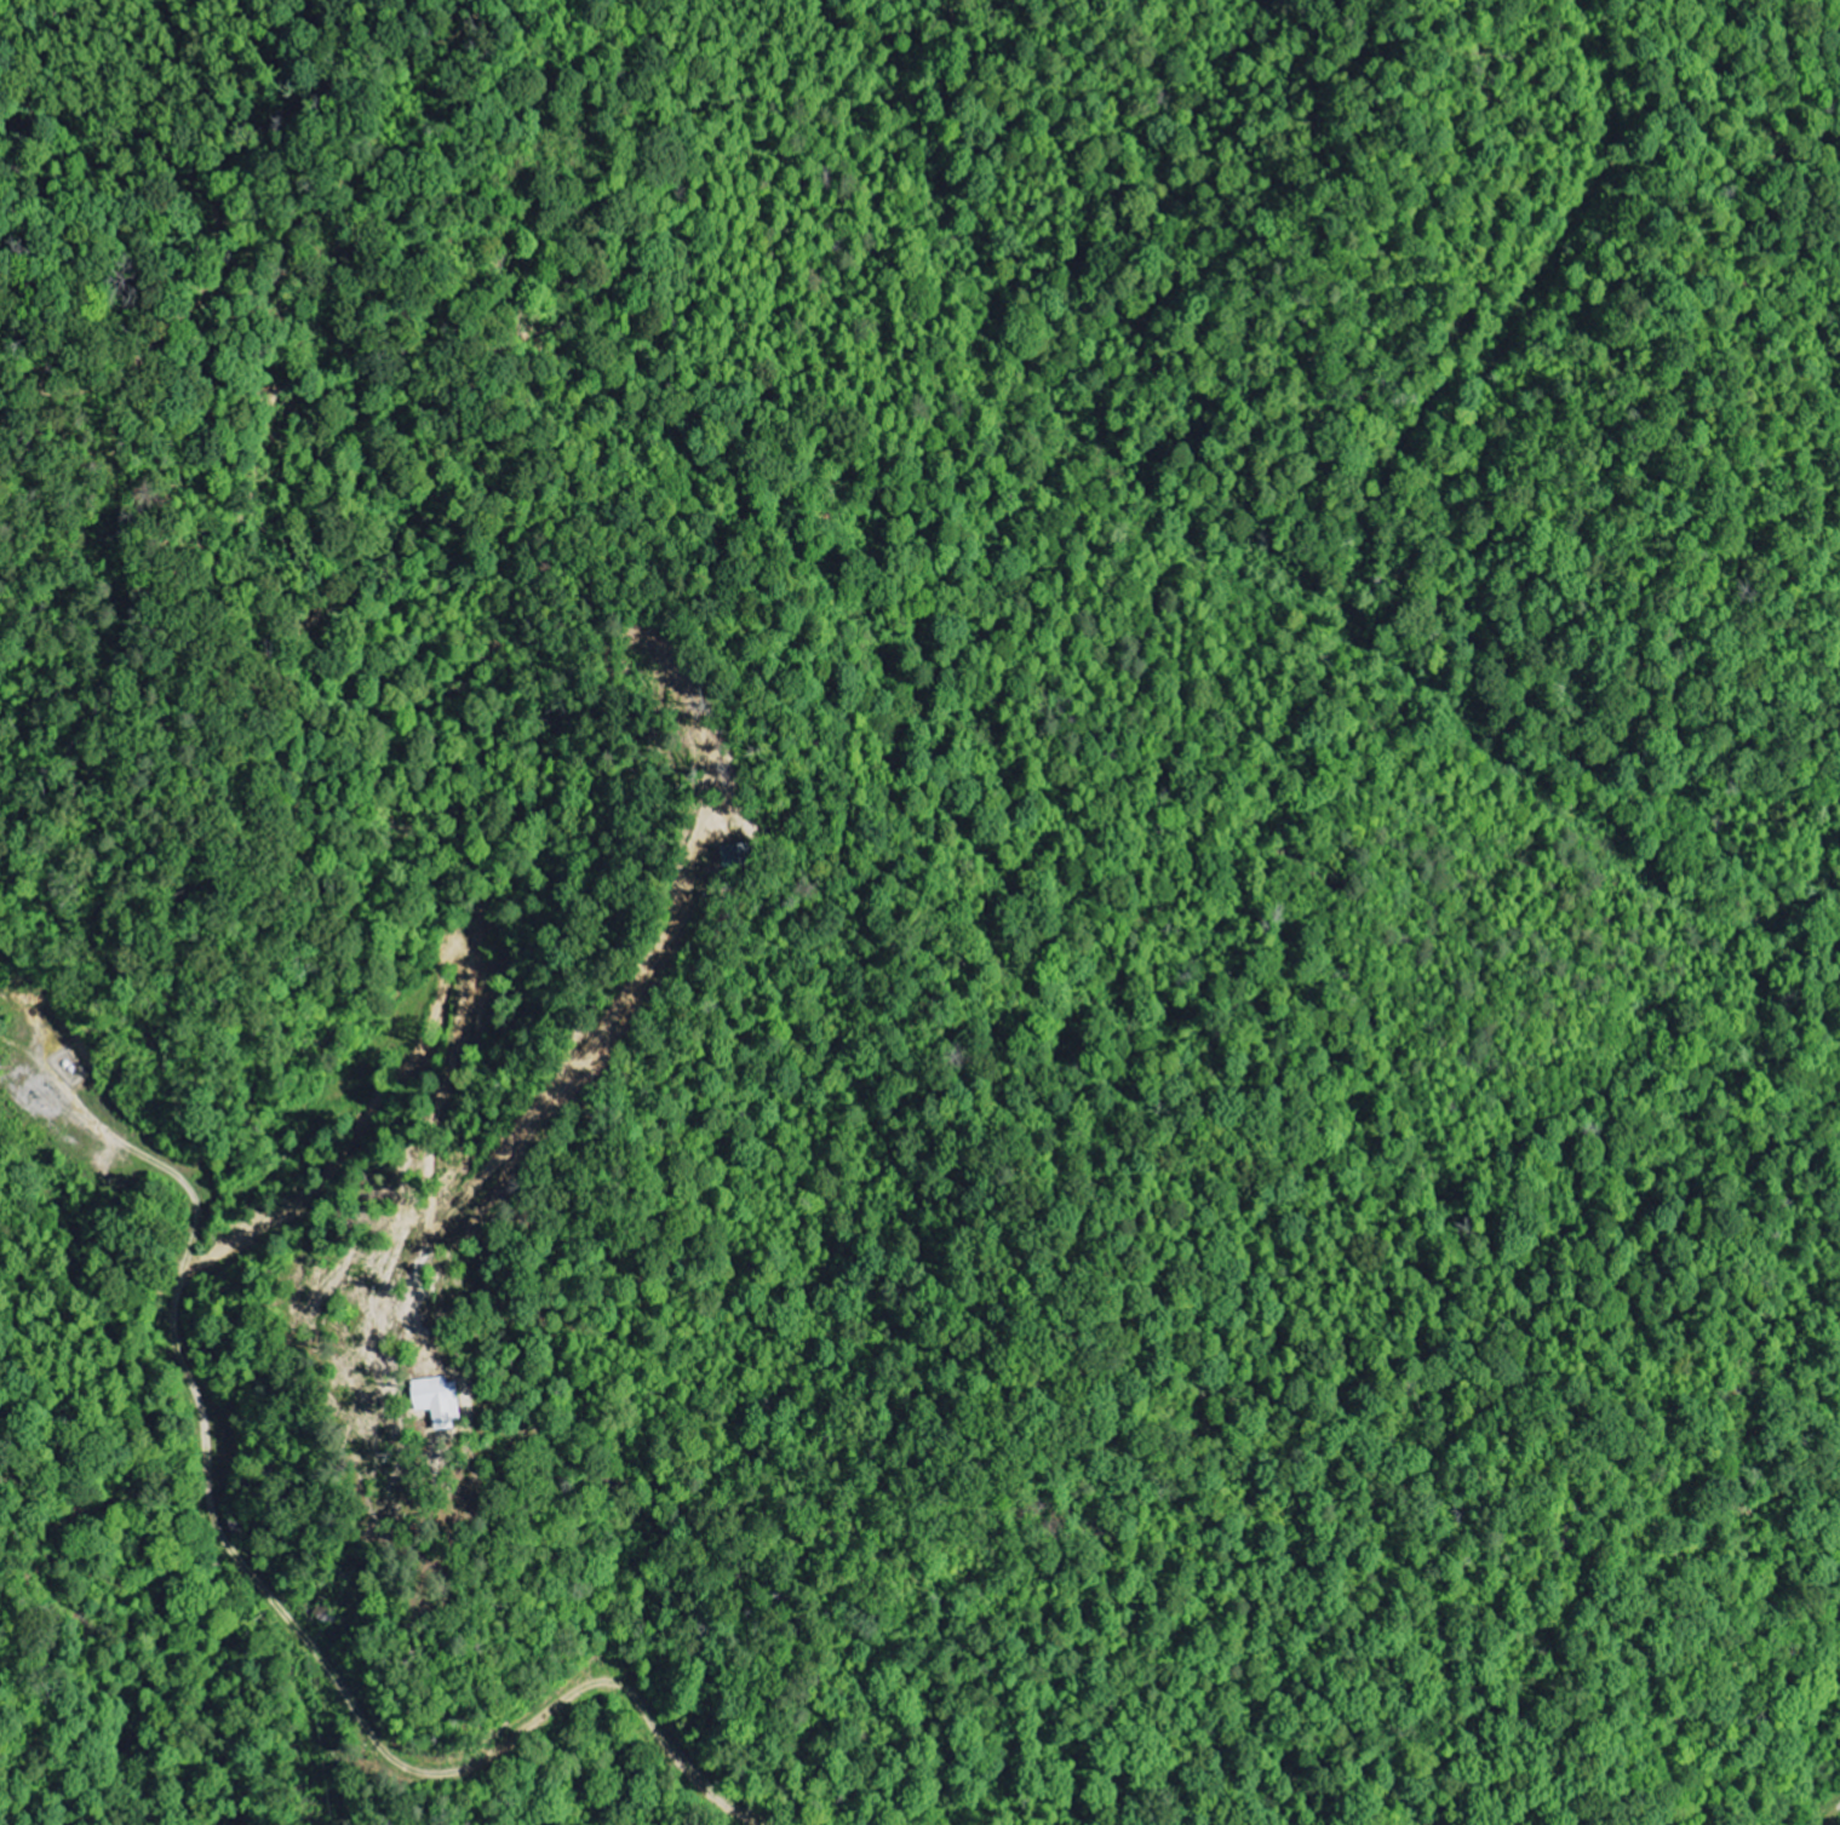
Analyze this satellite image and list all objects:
building: (438, 1401)

